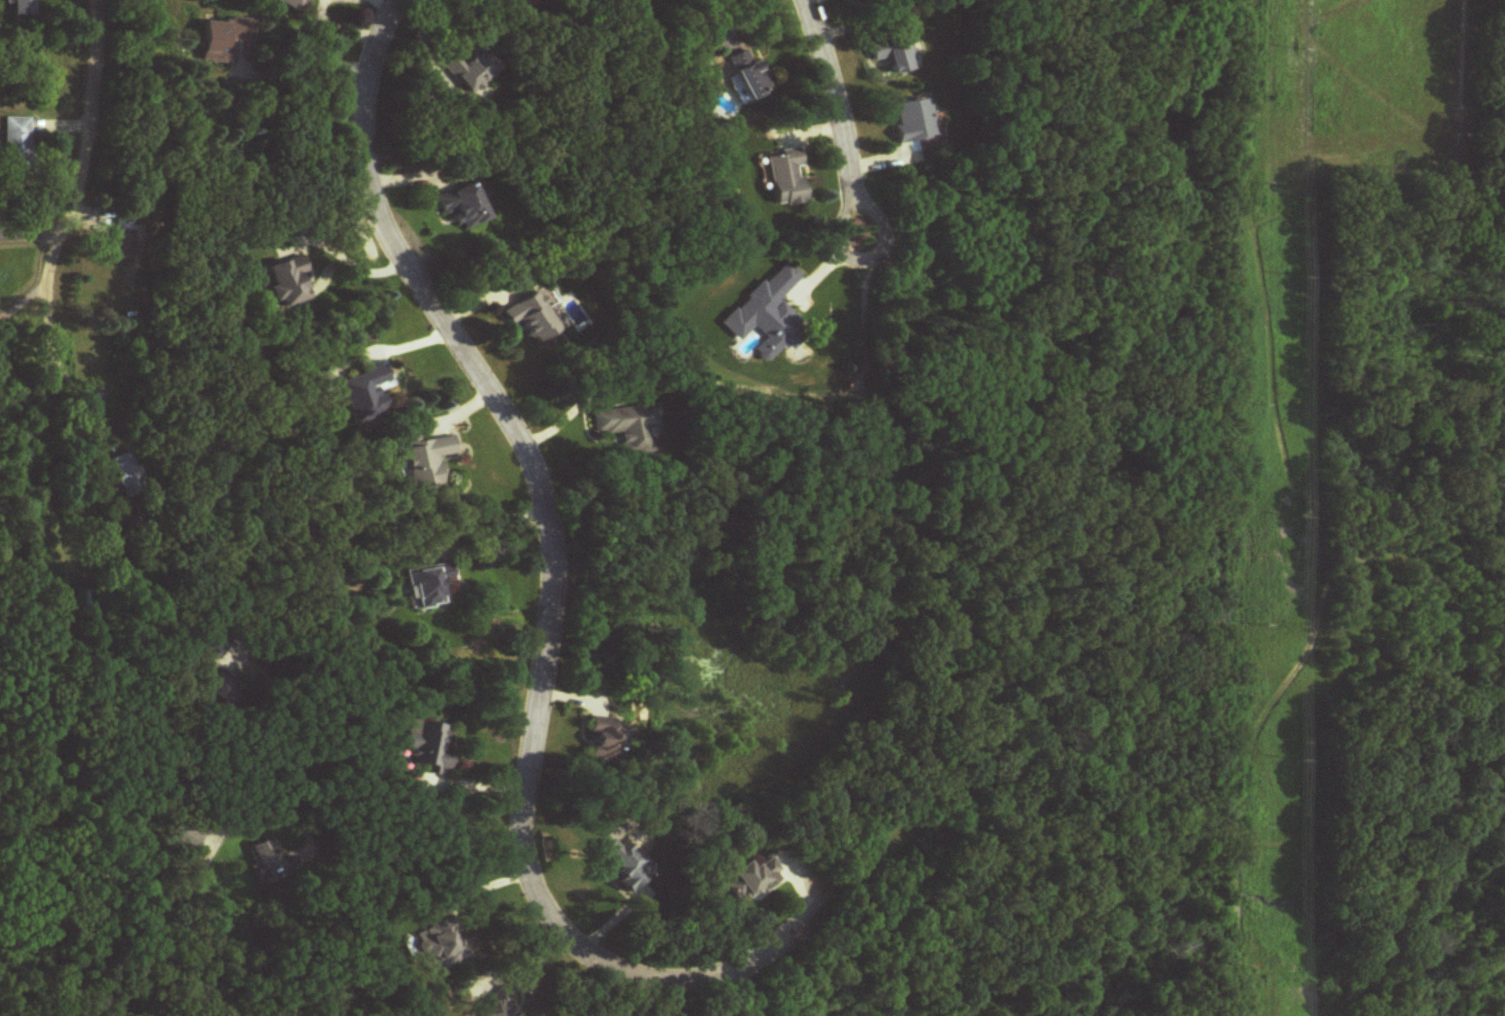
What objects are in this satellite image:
building: (680, 0)
building: (529, 1)
building: (294, 4)
building: (23, 8)
road: (738, 19)
building: (222, 39)
building: (895, 54)
road: (295, 68)
building: (471, 68)
building: (750, 76)
road: (840, 120)
building: (914, 122)
building: (16, 146)
road: (83, 171)
building: (786, 179)
building: (464, 209)
road: (32, 238)
building: (124, 246)
road: (352, 260)
building: (286, 283)
road: (22, 301)
building: (766, 315)
building: (531, 319)
road: (78, 389)
building: (363, 395)
building: (627, 429)
building: (427, 461)
building: (126, 473)
building: (428, 587)
road: (549, 590)
building: (87, 603)
building: (207, 645)
building: (219, 693)
building: (602, 738)
building: (427, 742)
building: (270, 861)
building: (624, 863)
building: (753, 879)
building: (442, 944)

